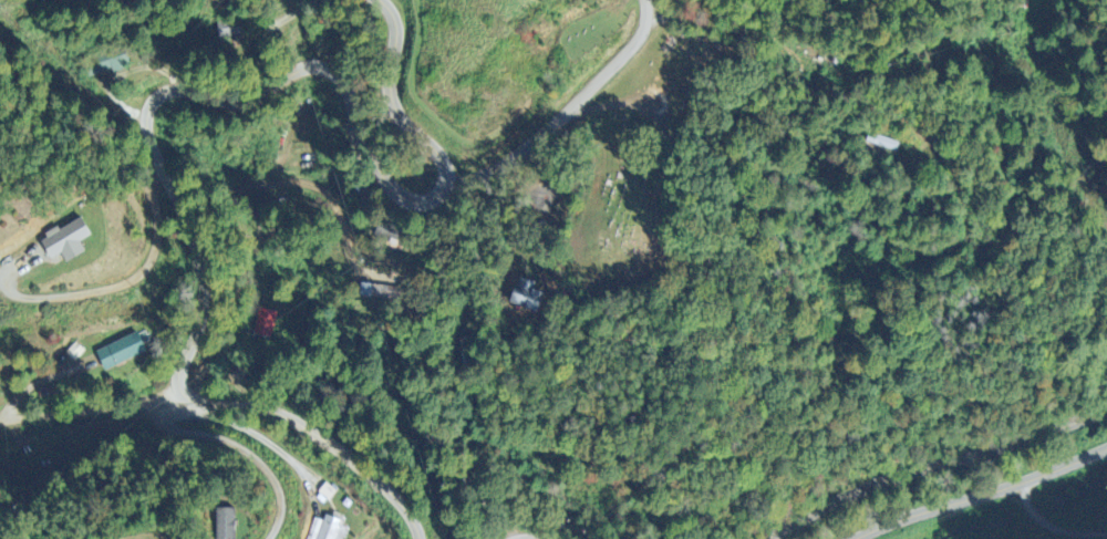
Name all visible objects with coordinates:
park: (584, 33)
road: (393, 97)
road: (568, 111)
park: (630, 168)
road: (946, 173)
road: (172, 195)
building: (63, 243)
building: (525, 298)
building: (262, 325)
building: (118, 354)
road: (933, 465)
road: (986, 494)
building: (224, 525)
road: (1049, 529)
building: (328, 530)
road: (530, 538)

